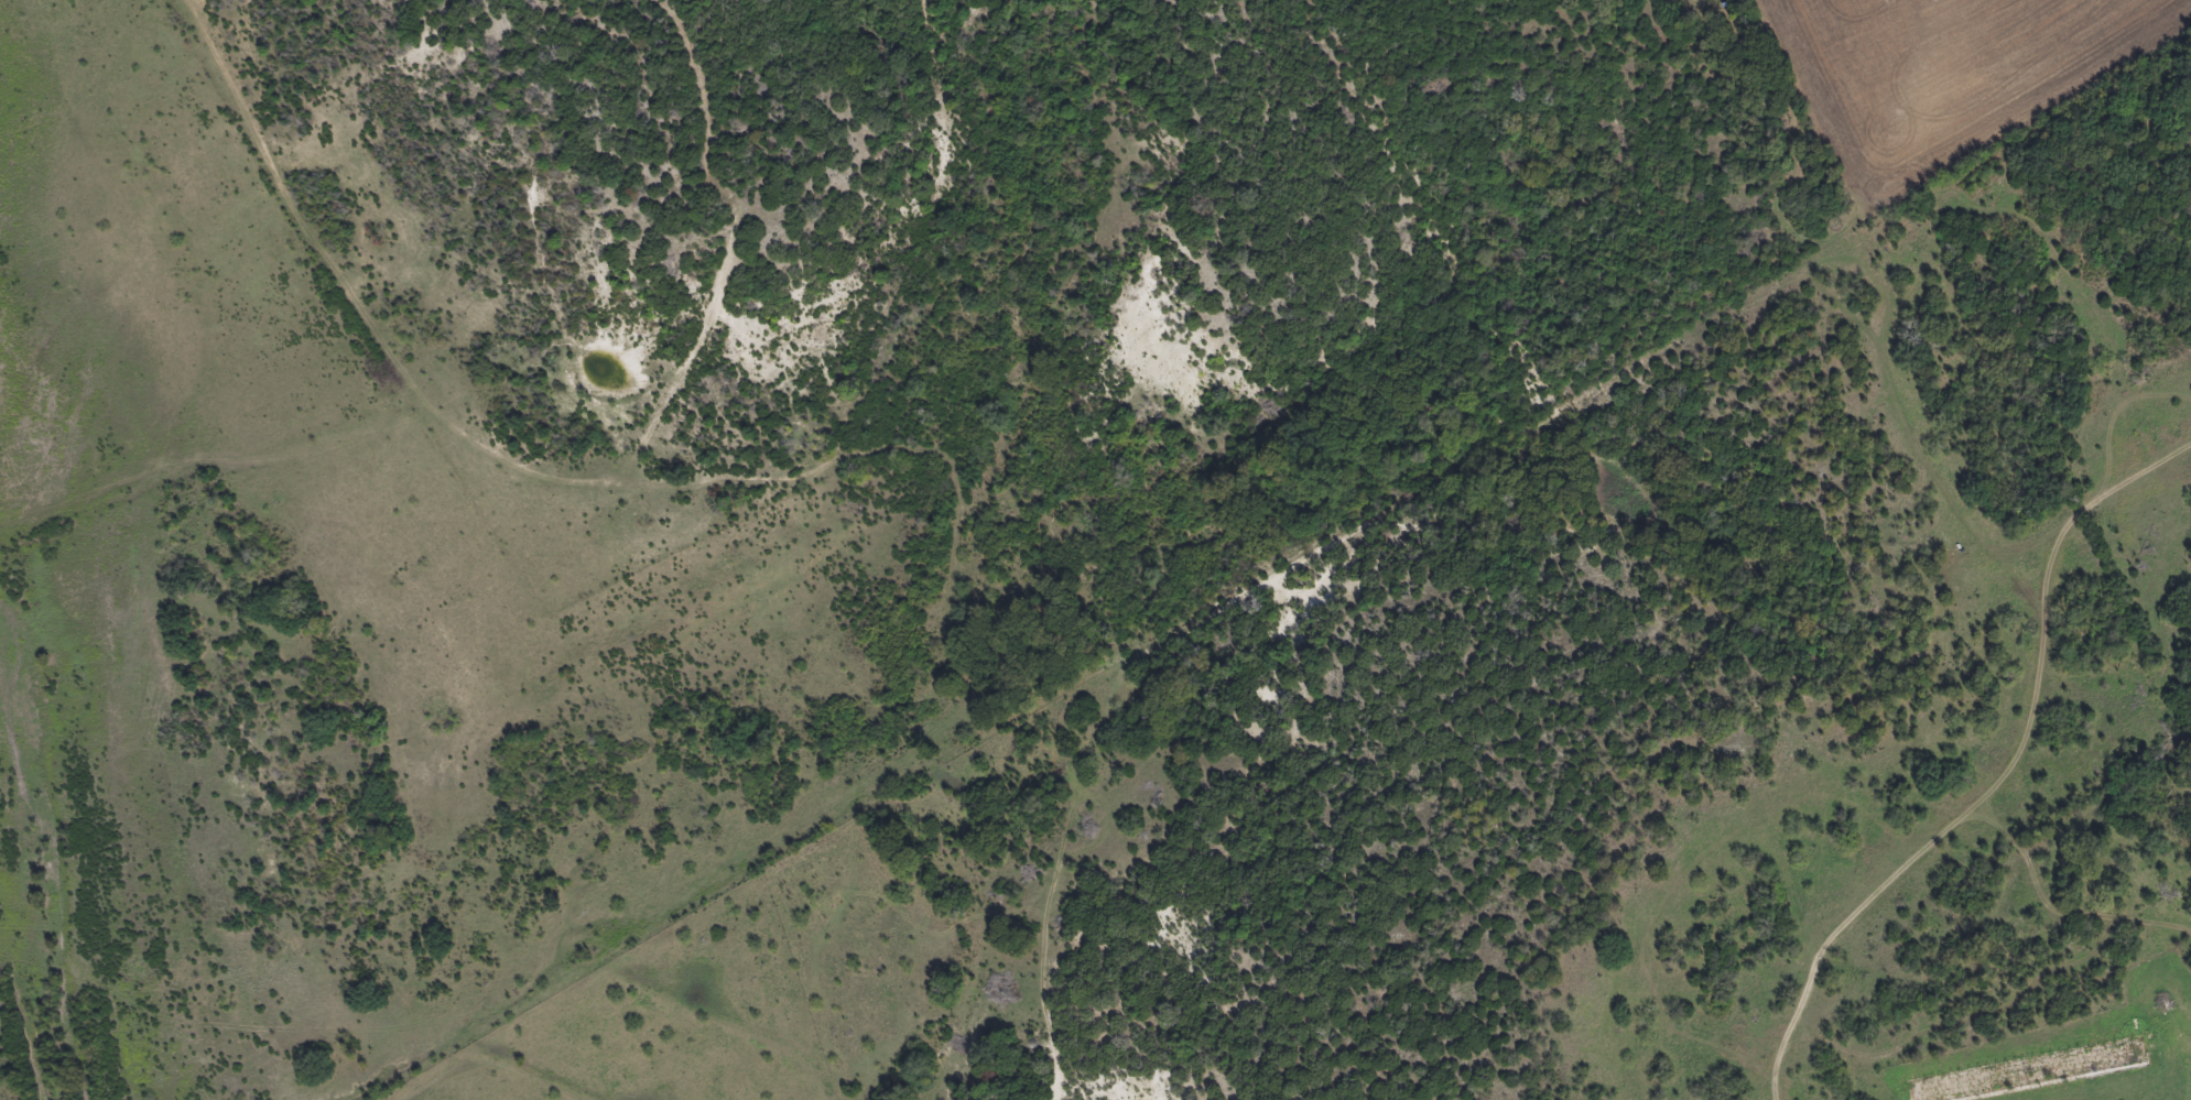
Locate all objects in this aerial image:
building: (2086, 1063)
building: (1962, 1086)

